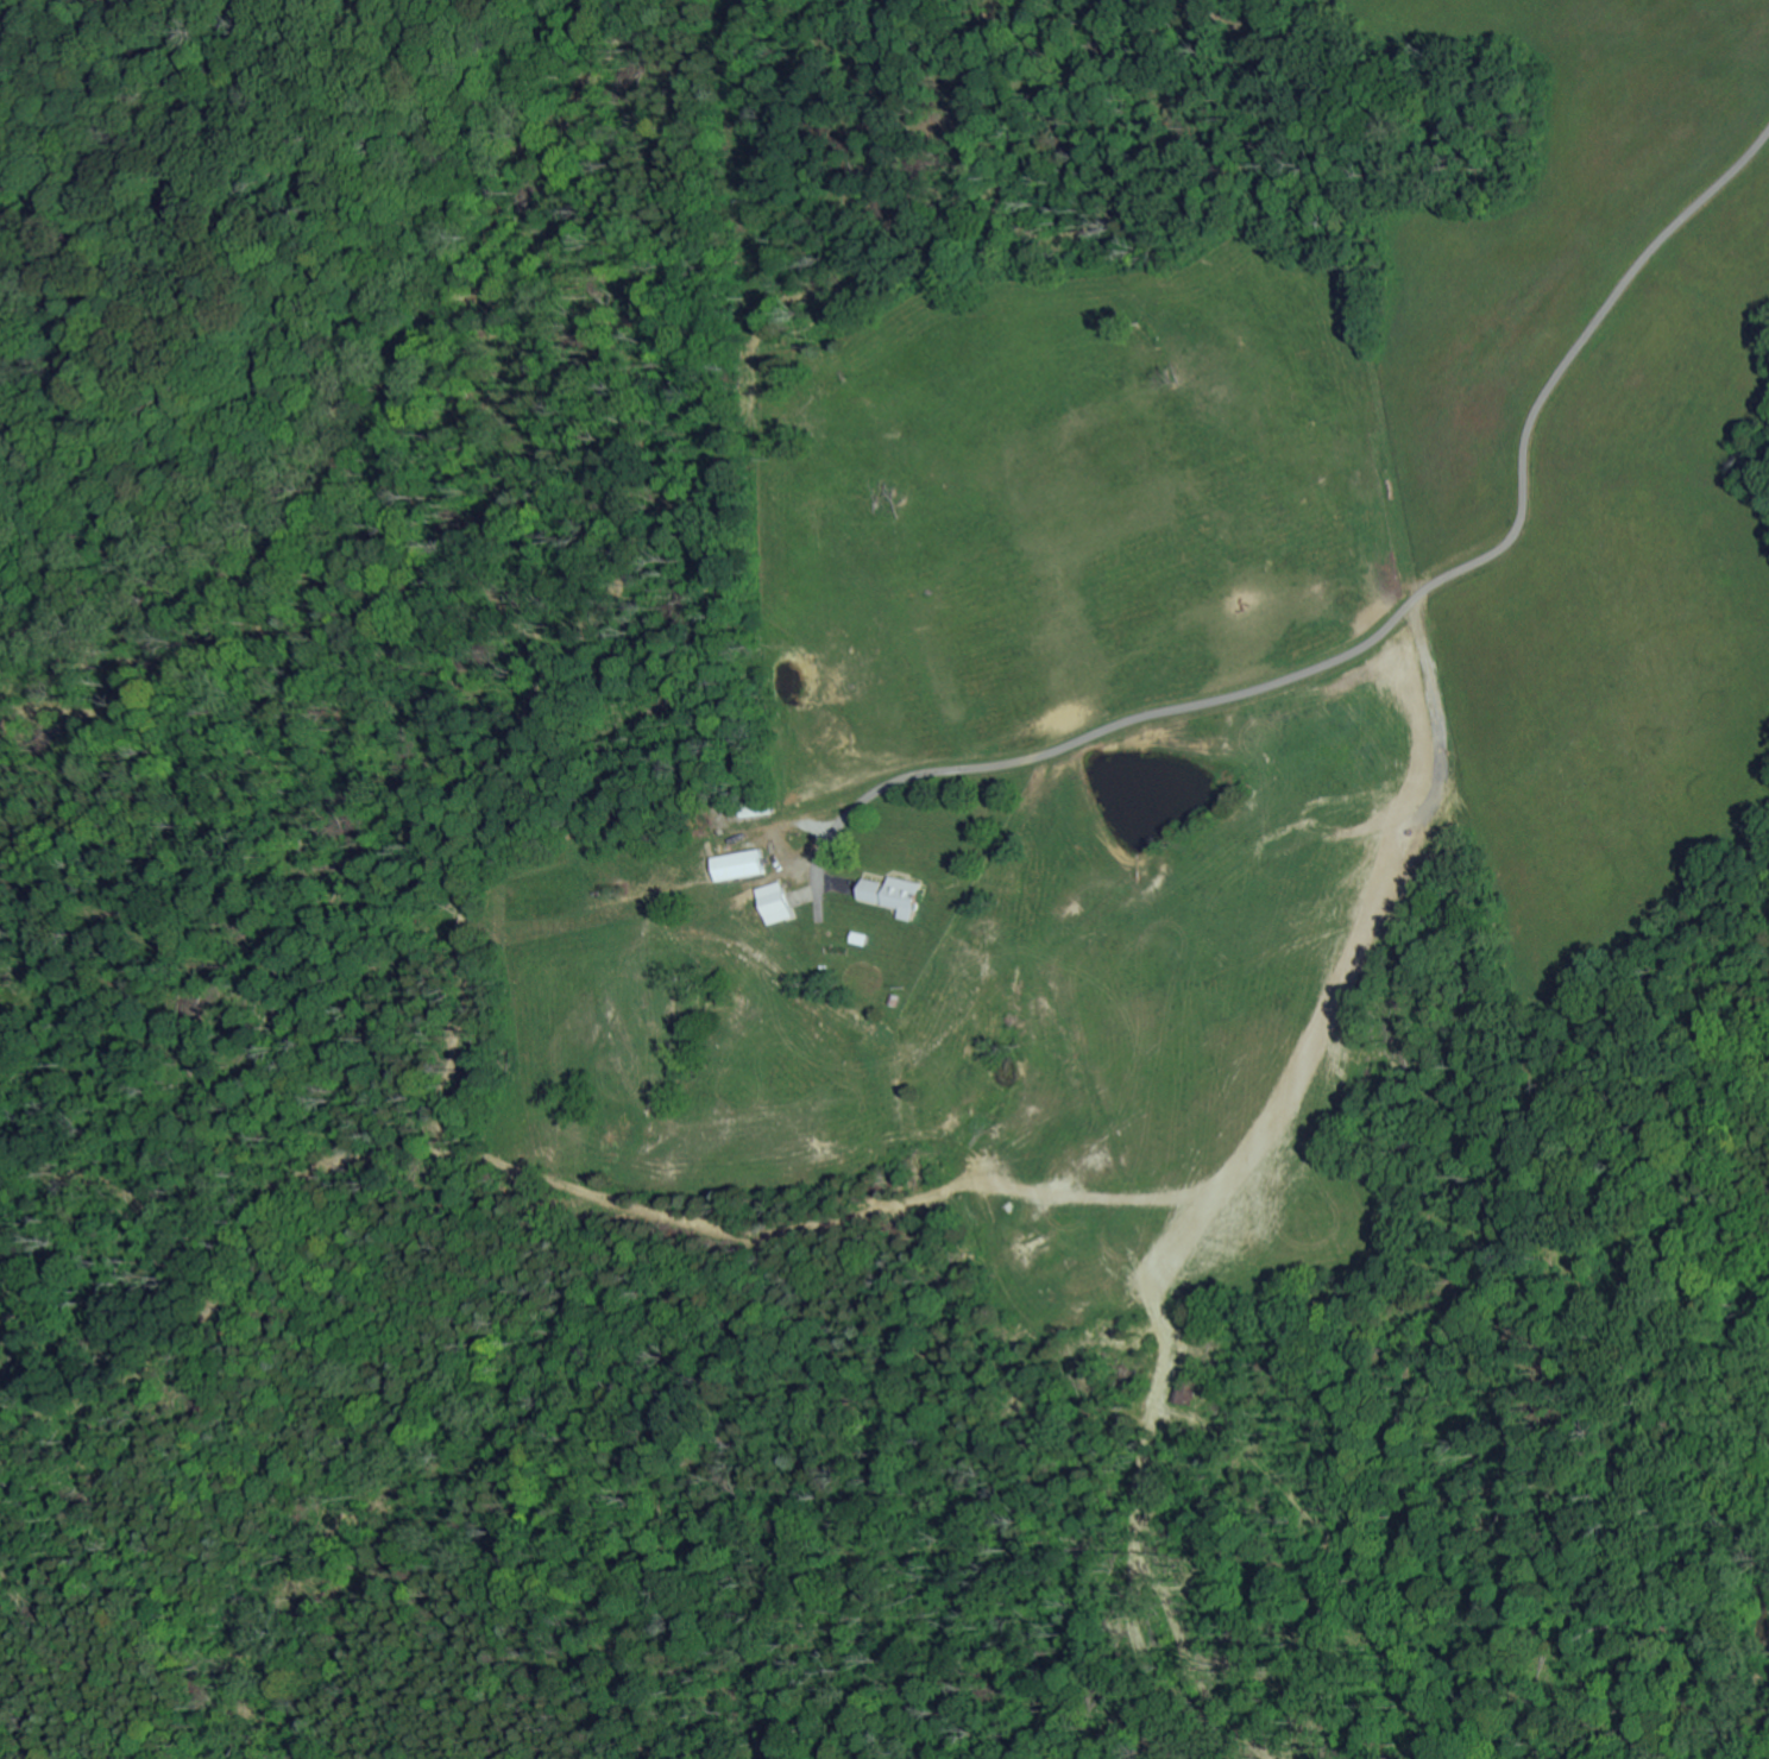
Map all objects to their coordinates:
road: (1373, 638)
building: (736, 865)
building: (888, 895)
building: (772, 903)

